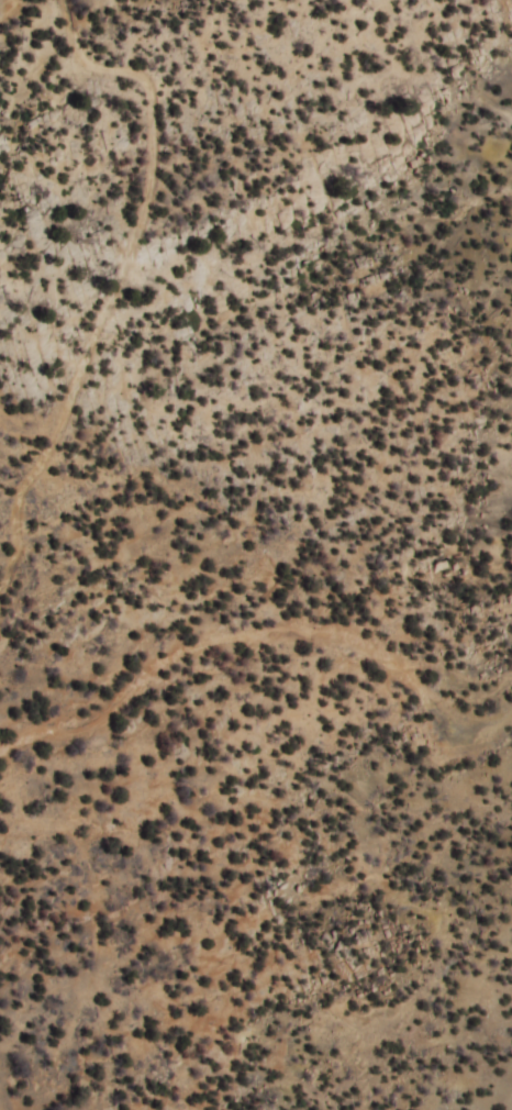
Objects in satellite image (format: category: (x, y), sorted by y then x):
road: (240, 631)

